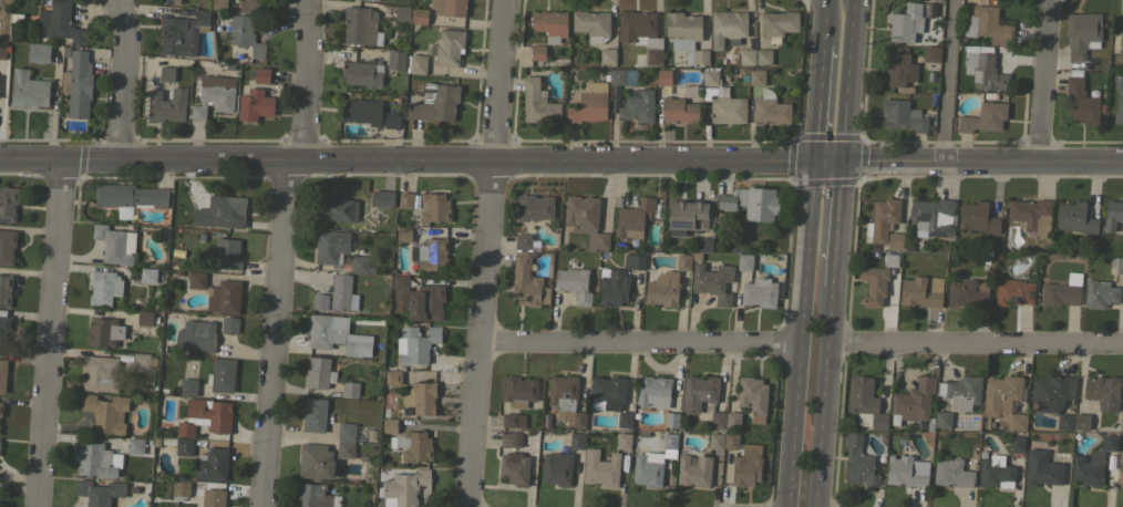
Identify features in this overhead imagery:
building: (369, 0)
rooftop solar panel: (169, 1)
building: (171, 1)
building: (218, 3)
building: (250, 6)
building: (449, 7)
building: (402, 12)
building: (420, 15)
building: (60, 21)
road: (820, 22)
building: (906, 22)
building: (549, 24)
building: (591, 24)
building: (777, 24)
building: (987, 24)
building: (361, 25)
building: (682, 25)
building: (727, 27)
building: (182, 33)
building: (641, 33)
building: (1082, 33)
building: (246, 35)
building: (1121, 41)
building: (449, 48)
building: (683, 49)
building: (2, 51)
building: (38, 52)
building: (537, 52)
building: (931, 53)
building: (608, 56)
building: (701, 56)
building: (746, 56)
building: (763, 56)
building: (395, 59)
building: (416, 63)
building: (983, 68)
building: (899, 70)
building: (166, 73)
building: (362, 73)
building: (262, 74)
building: (617, 76)
building: (663, 76)
building: (756, 76)
road: (851, 77)
road: (127, 79)
road: (952, 79)
road: (1047, 79)
building: (78, 84)
building: (29, 89)
building: (2, 90)
building: (213, 96)
road: (813, 101)
building: (1081, 101)
building: (435, 102)
building: (537, 102)
building: (723, 102)
building: (589, 103)
building: (167, 104)
building: (255, 104)
building: (637, 106)
building: (1119, 107)
building: (770, 108)
building: (679, 110)
building: (361, 111)
building: (904, 115)
building: (983, 117)
building: (392, 120)
road: (826, 156)
traffic signals: (845, 156)
traffic signals: (808, 157)
road: (983, 158)
road: (404, 159)
building: (130, 196)
building: (382, 198)
building: (405, 199)
building: (751, 201)
building: (8, 204)
building: (435, 207)
building: (534, 207)
building: (340, 209)
building: (229, 210)
building: (1030, 214)
building: (1112, 215)
building: (687, 216)
building: (933, 217)
building: (977, 217)
building: (1074, 217)
rooftop solar panel: (3, 218)
building: (633, 218)
building: (883, 219)
building: (586, 220)
road: (838, 221)
rooftop solar panel: (682, 223)
building: (403, 234)
building: (895, 240)
building: (525, 241)
building: (115, 244)
building: (7, 246)
building: (330, 246)
road: (284, 251)
building: (430, 253)
road: (490, 253)
building: (226, 255)
building: (890, 260)
building: (633, 261)
building: (683, 261)
building: (744, 261)
building: (1116, 263)
building: (360, 265)
building: (150, 275)
building: (196, 279)
building: (713, 281)
building: (527, 283)
building: (574, 283)
building: (874, 284)
building: (104, 287)
building: (614, 288)
building: (4, 289)
building: (662, 289)
building: (1013, 291)
building: (1062, 291)
building: (759, 292)
building: (921, 292)
building: (342, 293)
building: (967, 293)
building: (1100, 293)
building: (225, 297)
building: (420, 299)
building: (319, 301)
building: (146, 317)
building: (230, 324)
building: (3, 329)
building: (104, 331)
road: (795, 331)
road: (50, 332)
building: (331, 334)
building: (196, 335)
road: (640, 340)
road: (977, 343)
building: (416, 344)
building: (146, 360)
building: (100, 372)
building: (318, 373)
building: (2, 374)
building: (221, 374)
building: (391, 376)
building: (187, 386)
building: (350, 389)
building: (518, 391)
building: (653, 391)
building: (698, 392)
building: (961, 392)
building: (1051, 392)
building: (1103, 392)
building: (421, 396)
building: (610, 397)
building: (753, 397)
road: (826, 397)
building: (565, 400)
building: (865, 401)
building: (913, 401)
building: (1002, 401)
building: (0, 408)
building: (105, 413)
building: (315, 414)
building: (205, 416)
building: (513, 420)
building: (671, 420)
building: (717, 420)
building: (942, 420)
building: (732, 421)
building: (1081, 421)
building: (1064, 422)
building: (1121, 422)
building: (389, 425)
building: (346, 431)
building: (511, 439)
building: (577, 441)
building: (624, 441)
building: (715, 441)
building: (731, 441)
building: (135, 444)
building: (1017, 444)
building: (413, 445)
building: (184, 446)
building: (344, 448)
building: (93, 457)
building: (316, 461)
building: (653, 462)
building: (858, 462)
building: (1092, 464)
building: (212, 465)
building: (514, 468)
building: (556, 468)
building: (600, 468)
building: (746, 468)
building: (1041, 468)
building: (1120, 468)
building: (693, 470)
building: (905, 472)
building: (996, 472)
building: (951, 473)
building: (404, 487)
building: (181, 488)
building: (99, 492)
building: (312, 496)
building: (213, 497)

